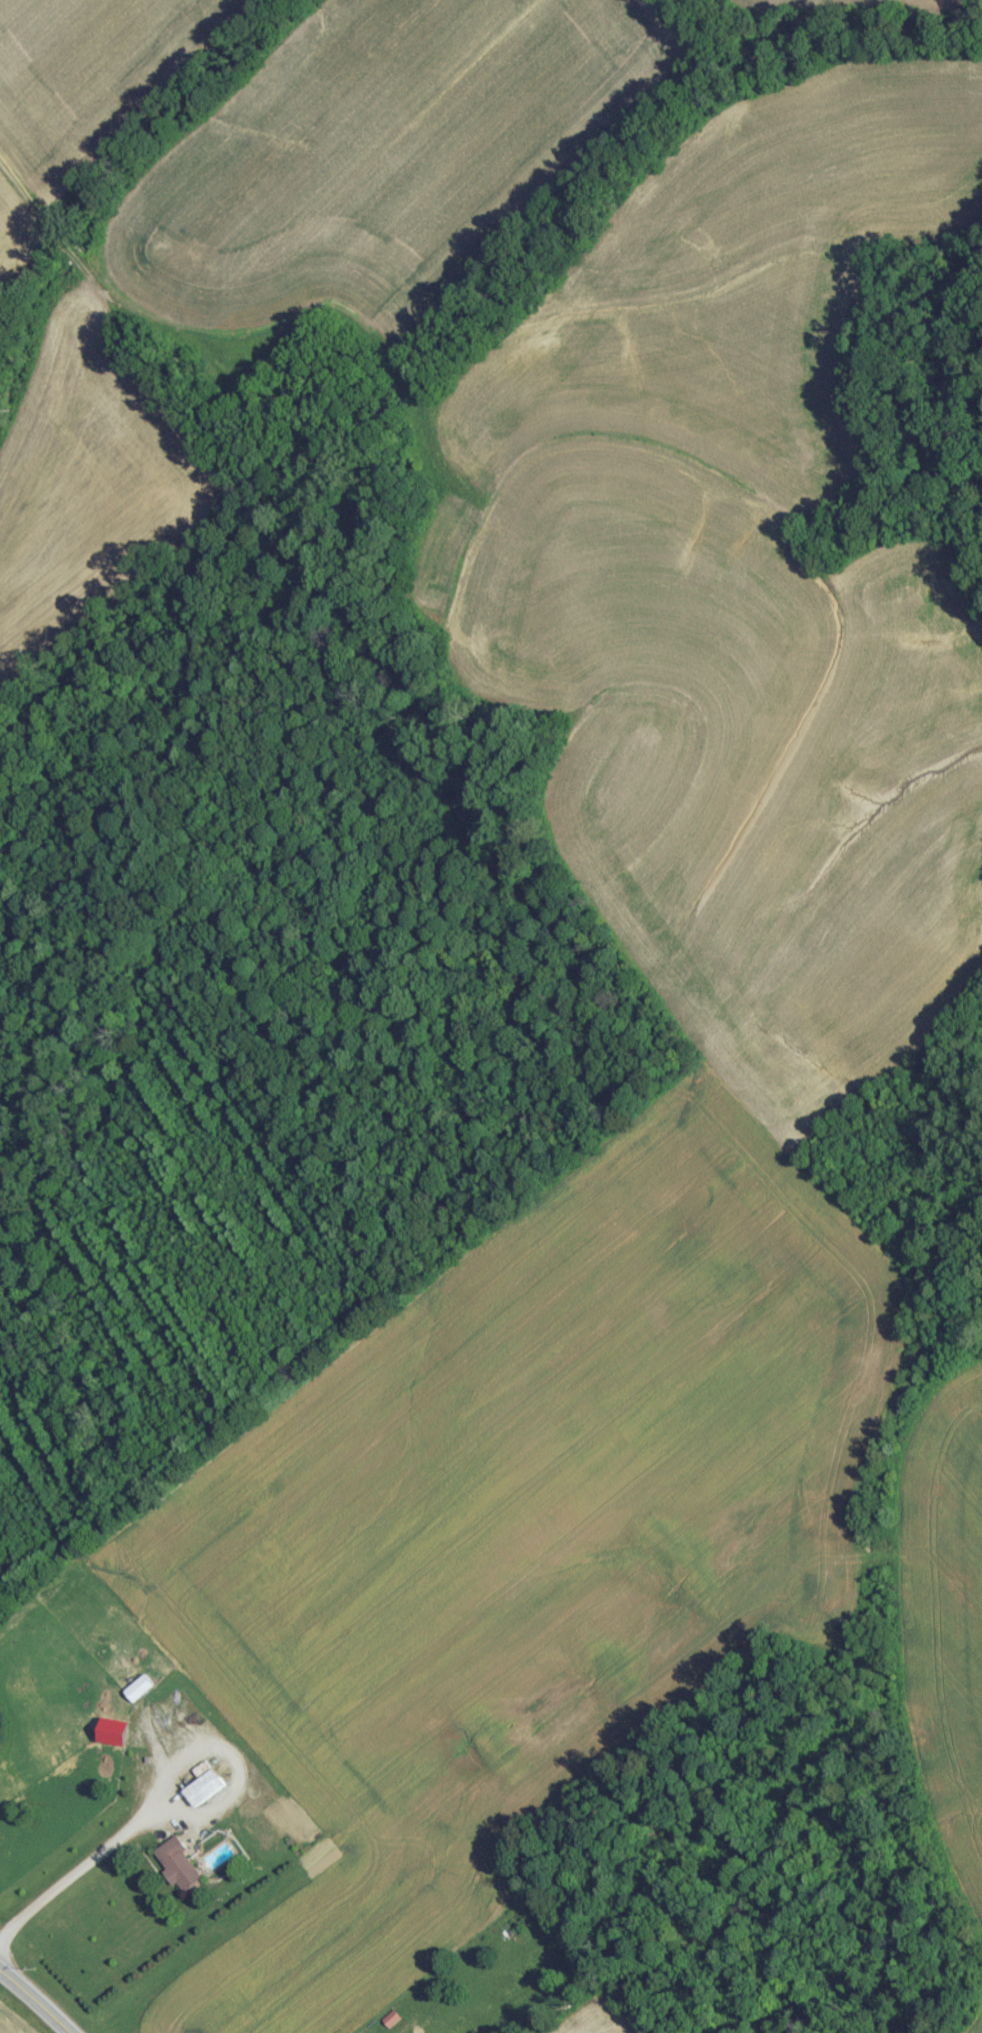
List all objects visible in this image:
building: (140, 1694)
building: (206, 1793)
road: (81, 1868)
building: (179, 1871)
road: (32, 2003)

